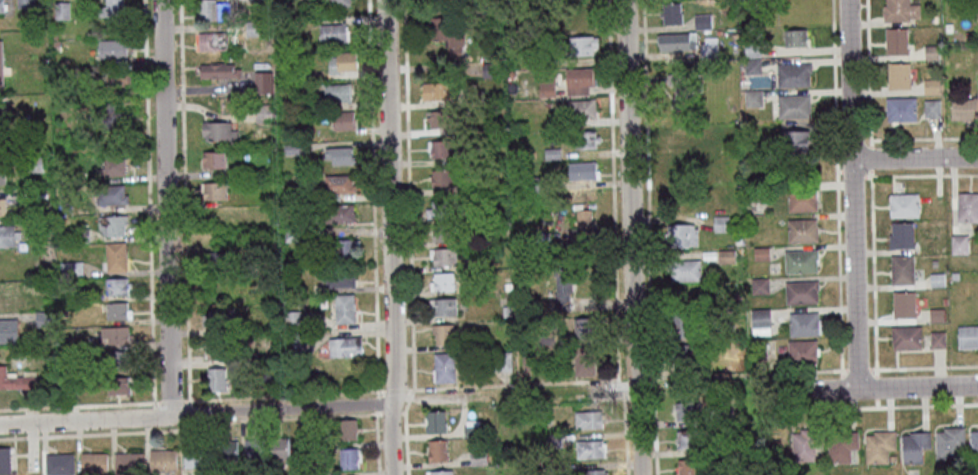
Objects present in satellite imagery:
building: (340, 2)
building: (26, 3)
building: (1, 5)
building: (61, 10)
building: (112, 10)
building: (212, 10)
building: (899, 10)
building: (977, 10)
building: (671, 13)
building: (573, 14)
building: (932, 19)
building: (702, 21)
building: (252, 28)
building: (333, 31)
building: (547, 31)
building: (718, 32)
building: (53, 35)
building: (445, 35)
building: (966, 35)
building: (733, 36)
building: (282, 37)
building: (795, 37)
building: (895, 40)
building: (210, 41)
building: (673, 41)
building: (55, 43)
building: (580, 45)
building: (112, 48)
building: (708, 48)
building: (752, 49)
building: (931, 52)
building: (536, 59)
building: (342, 61)
building: (0, 65)
building: (752, 66)
building: (489, 69)
building: (218, 70)
building: (287, 73)
building: (793, 74)
building: (898, 75)
building: (112, 77)
building: (578, 80)
building: (262, 82)
building: (546, 85)
building: (932, 86)
building: (682, 90)
building: (435, 91)
building: (337, 92)
building: (473, 97)
building: (753, 98)
building: (547, 103)
building: (793, 106)
building: (900, 108)
building: (931, 108)
building: (963, 108)
building: (581, 109)
building: (1, 111)
building: (263, 112)
building: (111, 116)
building: (440, 118)
building: (342, 120)
building: (218, 130)
building: (84, 133)
building: (679, 136)
building: (585, 139)
building: (748, 142)
building: (795, 142)
building: (720, 144)
building: (269, 148)
building: (440, 148)
building: (291, 149)
building: (551, 154)
building: (340, 155)
road: (914, 159)
building: (213, 160)
building: (33, 164)
building: (114, 165)
building: (582, 170)
building: (679, 174)
building: (1, 175)
building: (441, 178)
building: (339, 183)
building: (538, 184)
building: (466, 189)
building: (214, 190)
building: (286, 191)
building: (753, 193)
building: (112, 194)
building: (301, 194)
road: (630, 194)
road: (851, 194)
building: (802, 199)
building: (903, 205)
building: (2, 206)
road: (166, 207)
building: (967, 207)
building: (442, 208)
building: (336, 213)
building: (582, 222)
building: (720, 223)
building: (111, 224)
building: (42, 225)
building: (290, 230)
building: (801, 230)
building: (443, 232)
building: (6, 235)
building: (80, 235)
building: (682, 235)
building: (901, 235)
road: (390, 237)
building: (738, 241)
building: (958, 244)
building: (344, 250)
building: (760, 253)
building: (709, 255)
building: (115, 256)
building: (442, 256)
building: (726, 256)
building: (218, 260)
building: (800, 261)
building: (933, 263)
building: (71, 268)
building: (684, 270)
building: (901, 270)
building: (954, 276)
building: (340, 277)
building: (936, 279)
building: (442, 281)
building: (562, 282)
building: (43, 285)
building: (759, 285)
building: (117, 286)
building: (507, 286)
building: (287, 290)
building: (800, 291)
building: (10, 297)
building: (944, 301)
building: (903, 304)
building: (443, 306)
building: (345, 308)
building: (116, 310)
building: (506, 311)
building: (63, 312)
building: (936, 315)
building: (701, 316)
building: (759, 317)
building: (43, 318)
building: (217, 318)
building: (292, 319)
building: (804, 324)
building: (682, 325)
building: (584, 327)
building: (8, 330)
building: (759, 330)
building: (725, 332)
building: (117, 334)
building: (443, 334)
building: (906, 337)
building: (968, 337)
building: (936, 339)
building: (64, 344)
building: (296, 344)
building: (345, 346)
building: (215, 348)
building: (757, 350)
building: (802, 351)
building: (273, 356)
building: (682, 356)
building: (248, 357)
building: (118, 358)
building: (530, 359)
building: (581, 359)
building: (501, 361)
building: (444, 367)
building: (218, 379)
building: (18, 380)
building: (70, 384)
building: (118, 385)
road: (504, 385)
road: (917, 387)
road: (614, 389)
road: (822, 390)
building: (687, 410)
road: (196, 413)
building: (723, 415)
building: (587, 419)
building: (436, 421)
building: (471, 428)
building: (347, 429)
road: (402, 431)
road: (638, 431)
road: (624, 432)
building: (302, 436)
building: (688, 439)
building: (552, 441)
building: (949, 442)
building: (806, 443)
building: (724, 444)
building: (973, 444)
building: (841, 446)
building: (879, 446)
building: (914, 447)
building: (279, 448)
building: (315, 449)
building: (589, 449)
building: (253, 450)
building: (227, 451)
building: (437, 451)
building: (304, 453)
building: (197, 457)
building: (478, 457)
building: (349, 458)
building: (891, 458)
building: (5, 460)
building: (163, 460)
building: (94, 463)
building: (128, 463)
building: (59, 464)
building: (689, 467)
building: (556, 468)
building: (727, 470)
building: (441, 472)
building: (590, 472)
building: (320, 474)

